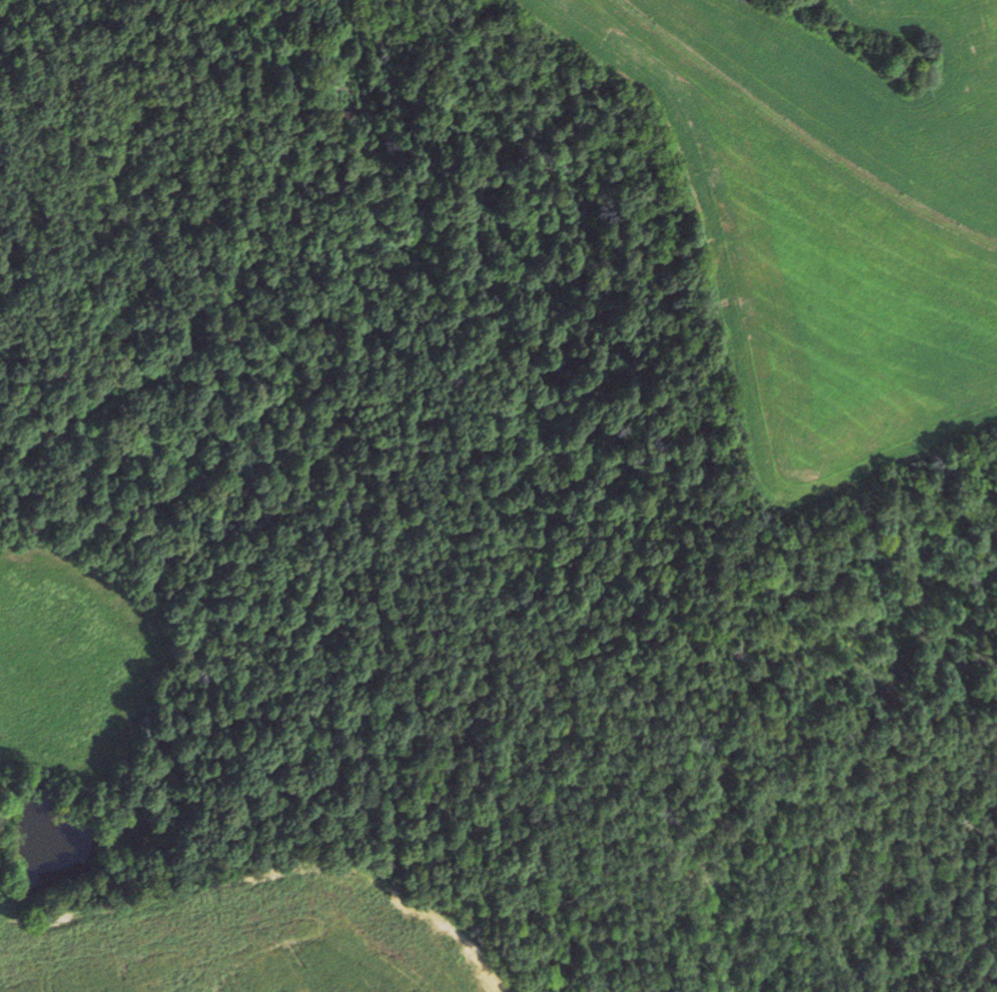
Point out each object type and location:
road: (802, 132)

